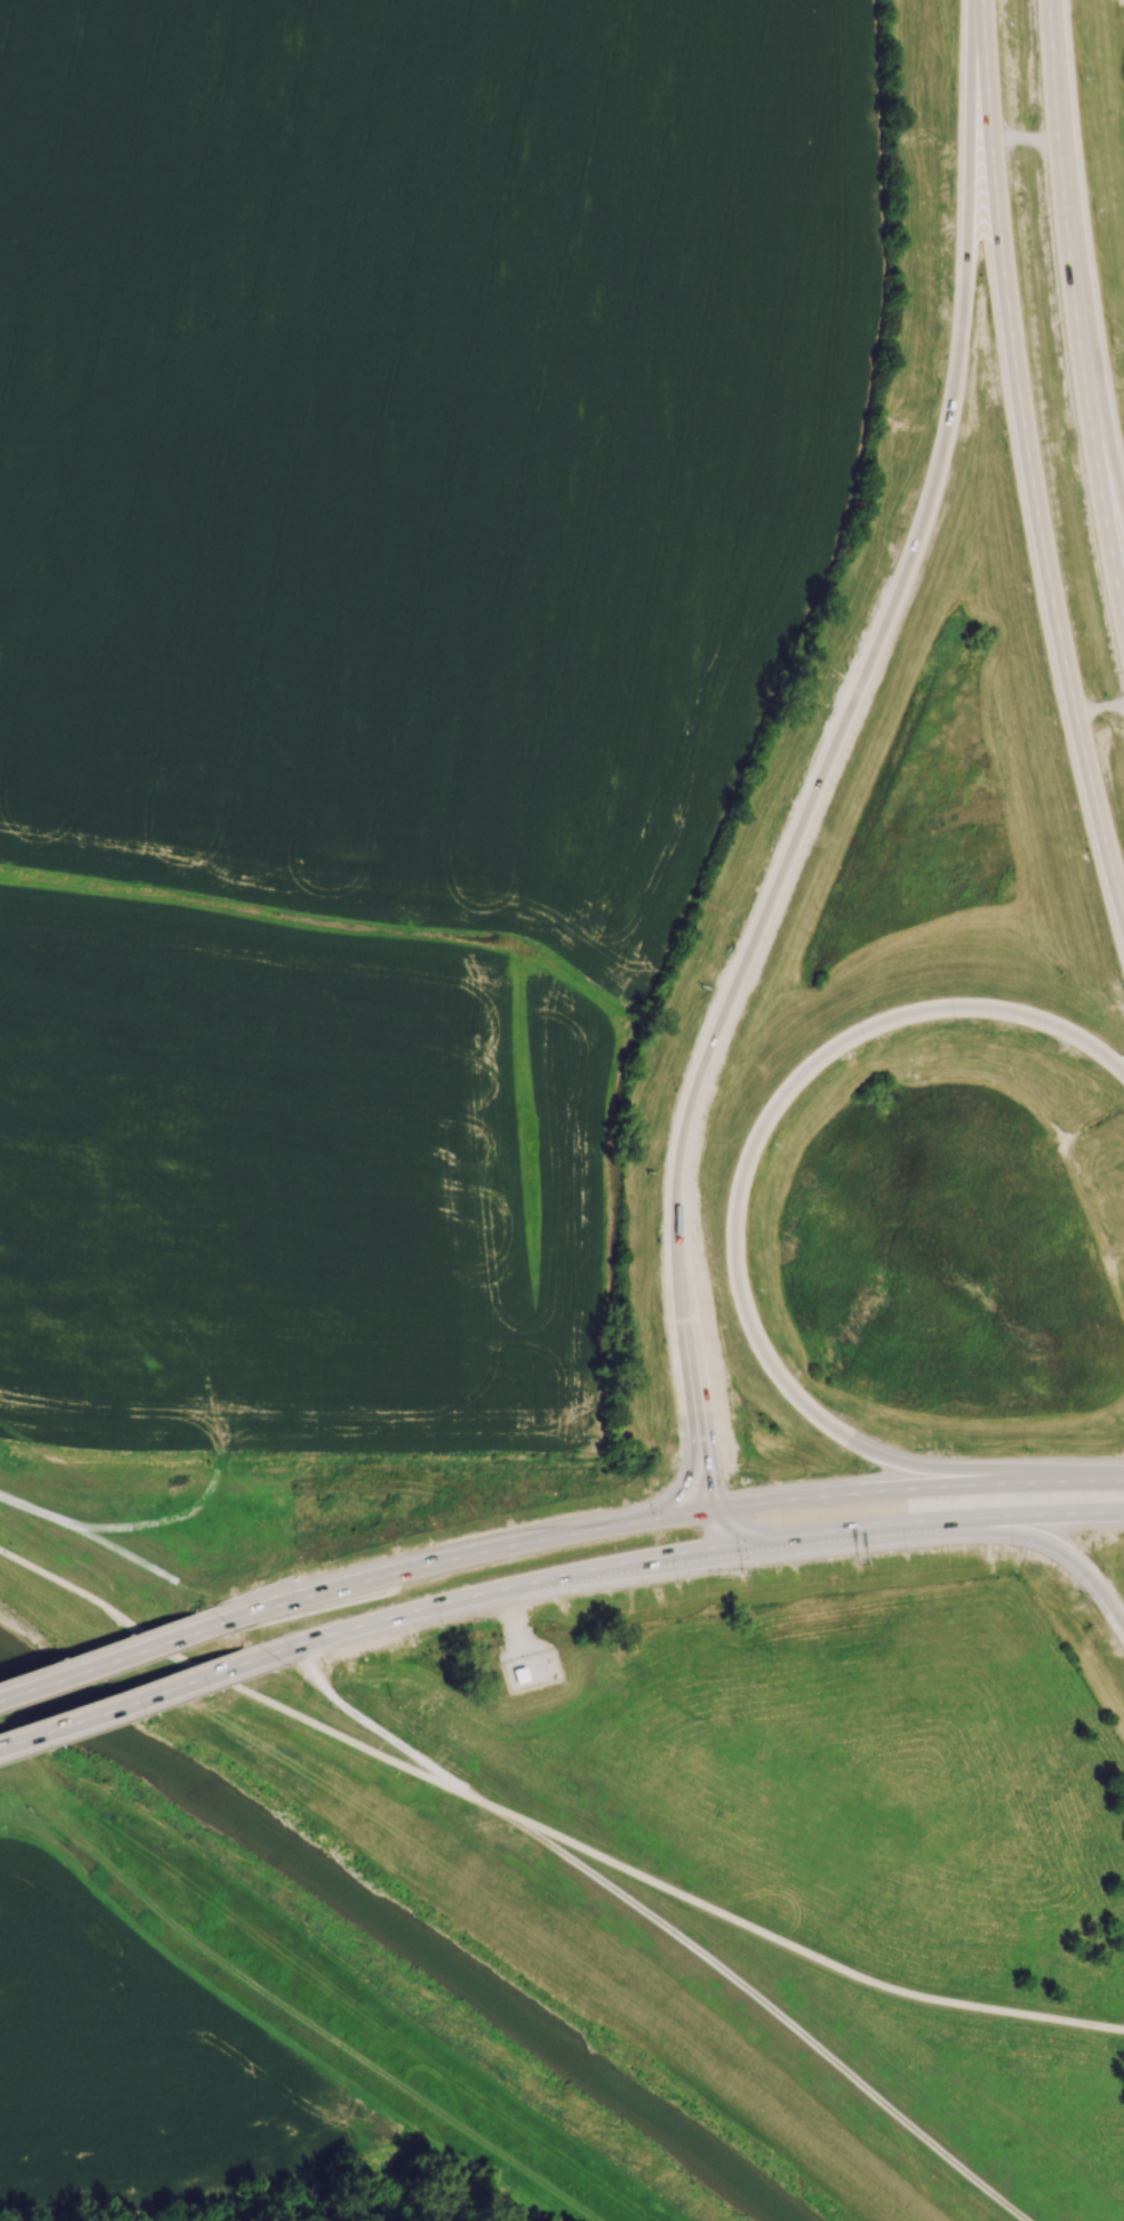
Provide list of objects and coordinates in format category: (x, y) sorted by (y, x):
road: (1026, 136)
road: (1079, 272)
road: (1030, 459)
road: (890, 615)
crop: (389, 662)
road: (1099, 703)
road: (734, 1211)
road: (691, 1355)
road: (224, 1465)
traffic signals: (711, 1509)
road: (661, 1517)
road: (1046, 1517)
road: (94, 1528)
road: (733, 1530)
traffic signals: (763, 1542)
road: (711, 1551)
road: (1062, 1551)
road: (68, 1586)
road: (204, 1595)
road: (514, 1618)
road: (354, 1626)
road: (104, 1659)
building: (517, 1675)
road: (126, 1702)
road: (305, 1718)
road: (377, 1732)
river: (404, 1929)
road: (793, 1946)
road: (276, 2000)
road: (763, 2000)

